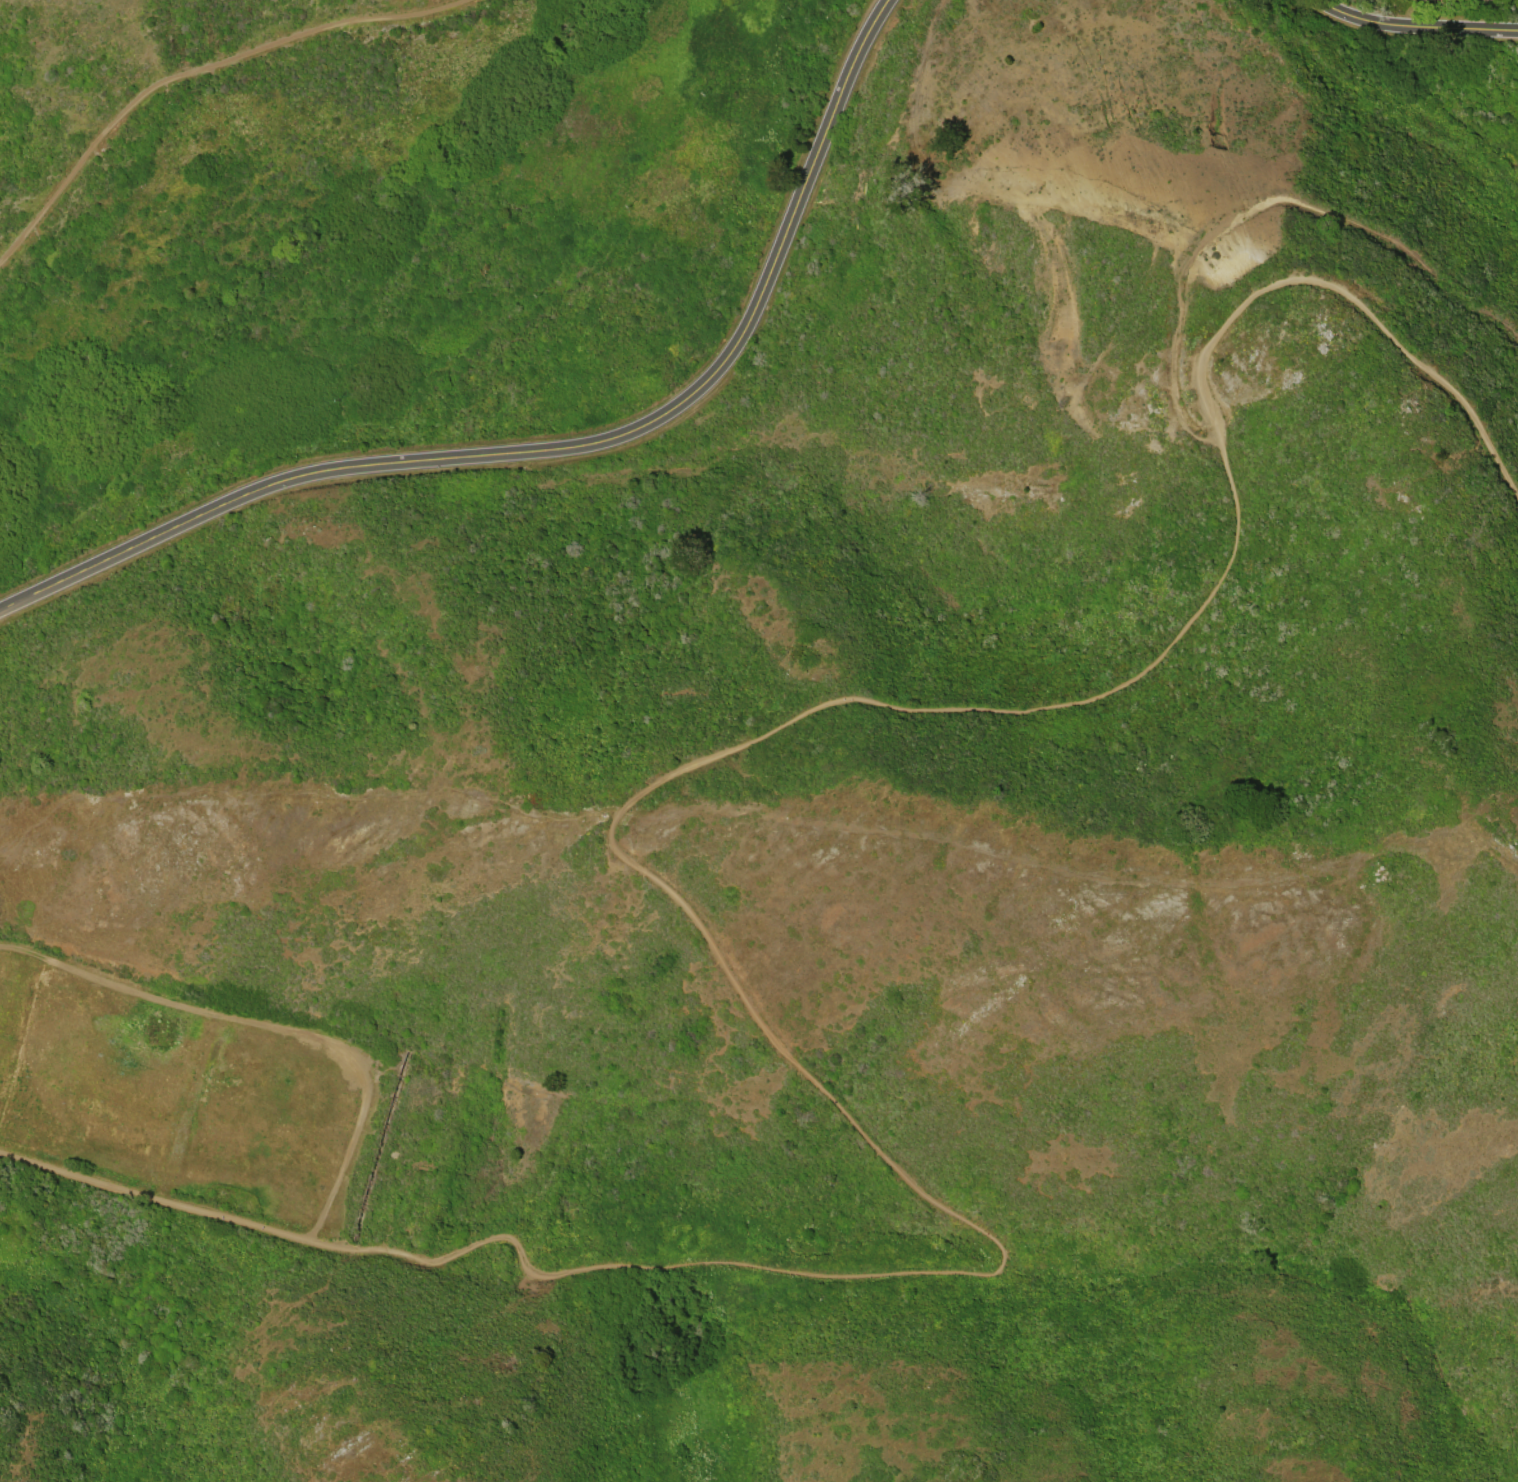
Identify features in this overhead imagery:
building: (1421, 0)
building: (1427, 1)
road: (1416, 25)
road: (197, 71)
road: (561, 448)
road: (697, 921)
road: (277, 1028)

